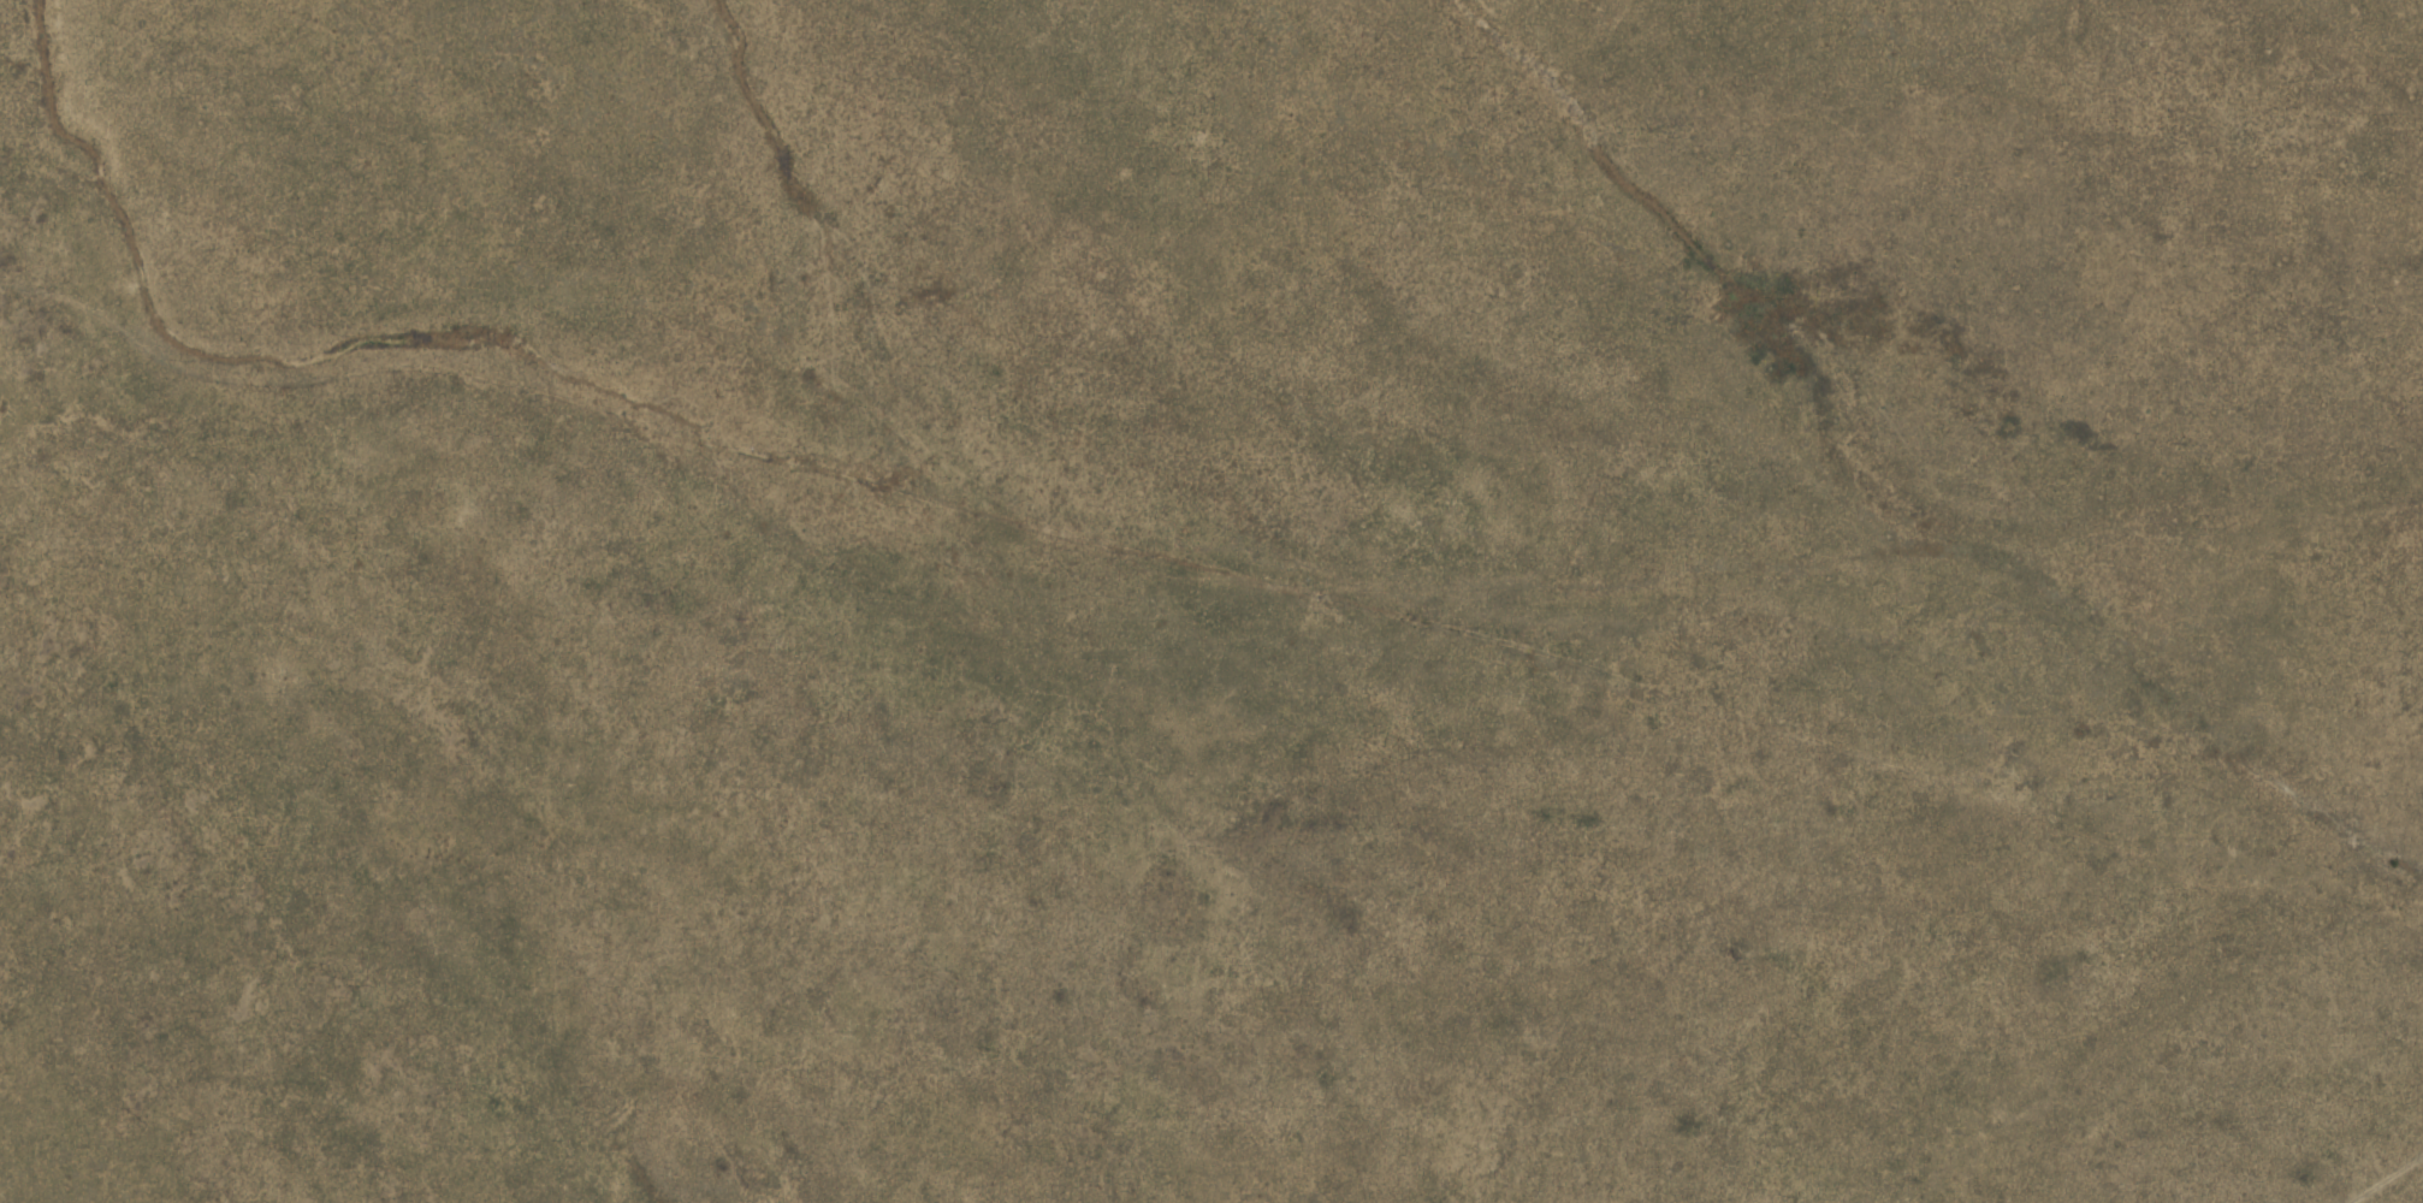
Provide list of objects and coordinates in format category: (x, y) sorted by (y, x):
road: (2389, 1179)

